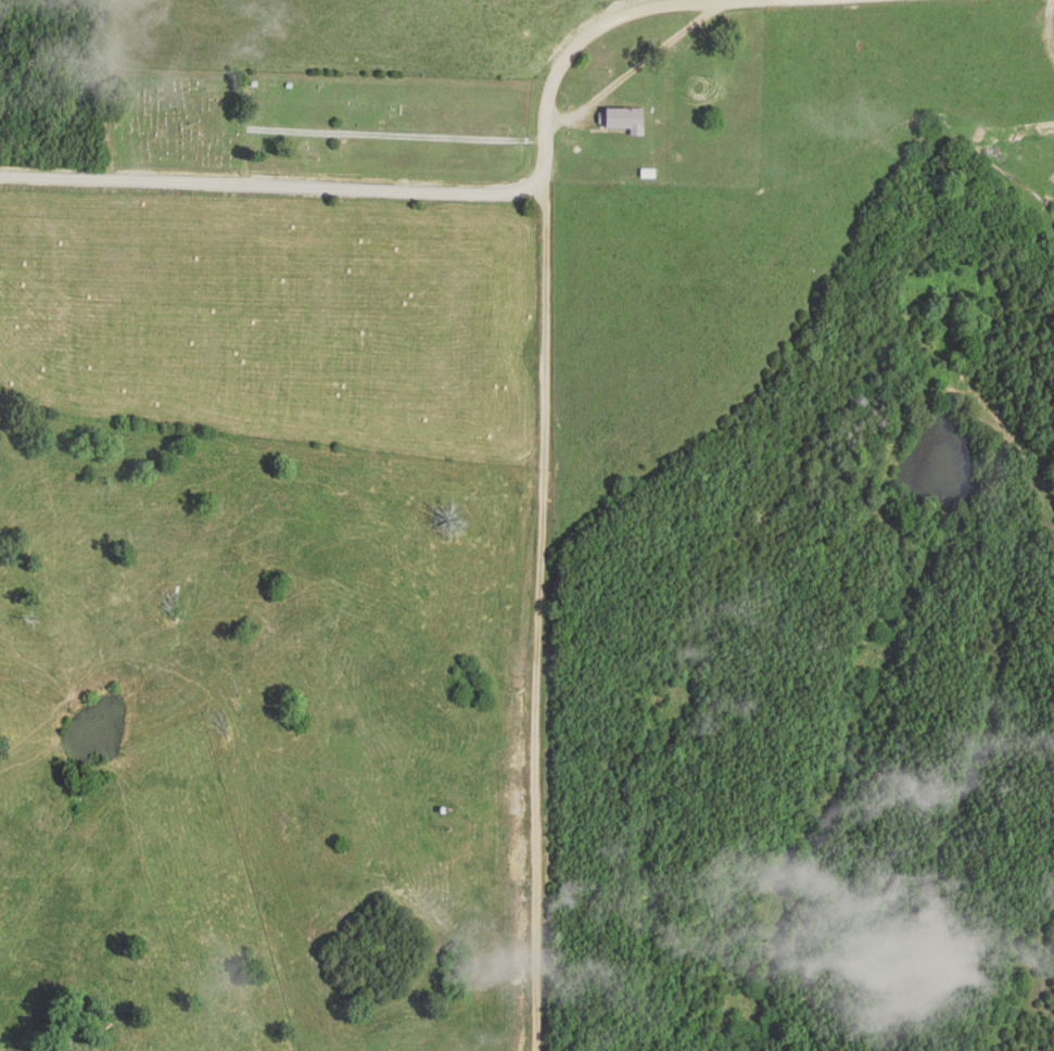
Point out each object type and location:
road: (558, 66)
building: (625, 119)
park: (321, 125)
road: (272, 187)
road: (563, 611)

